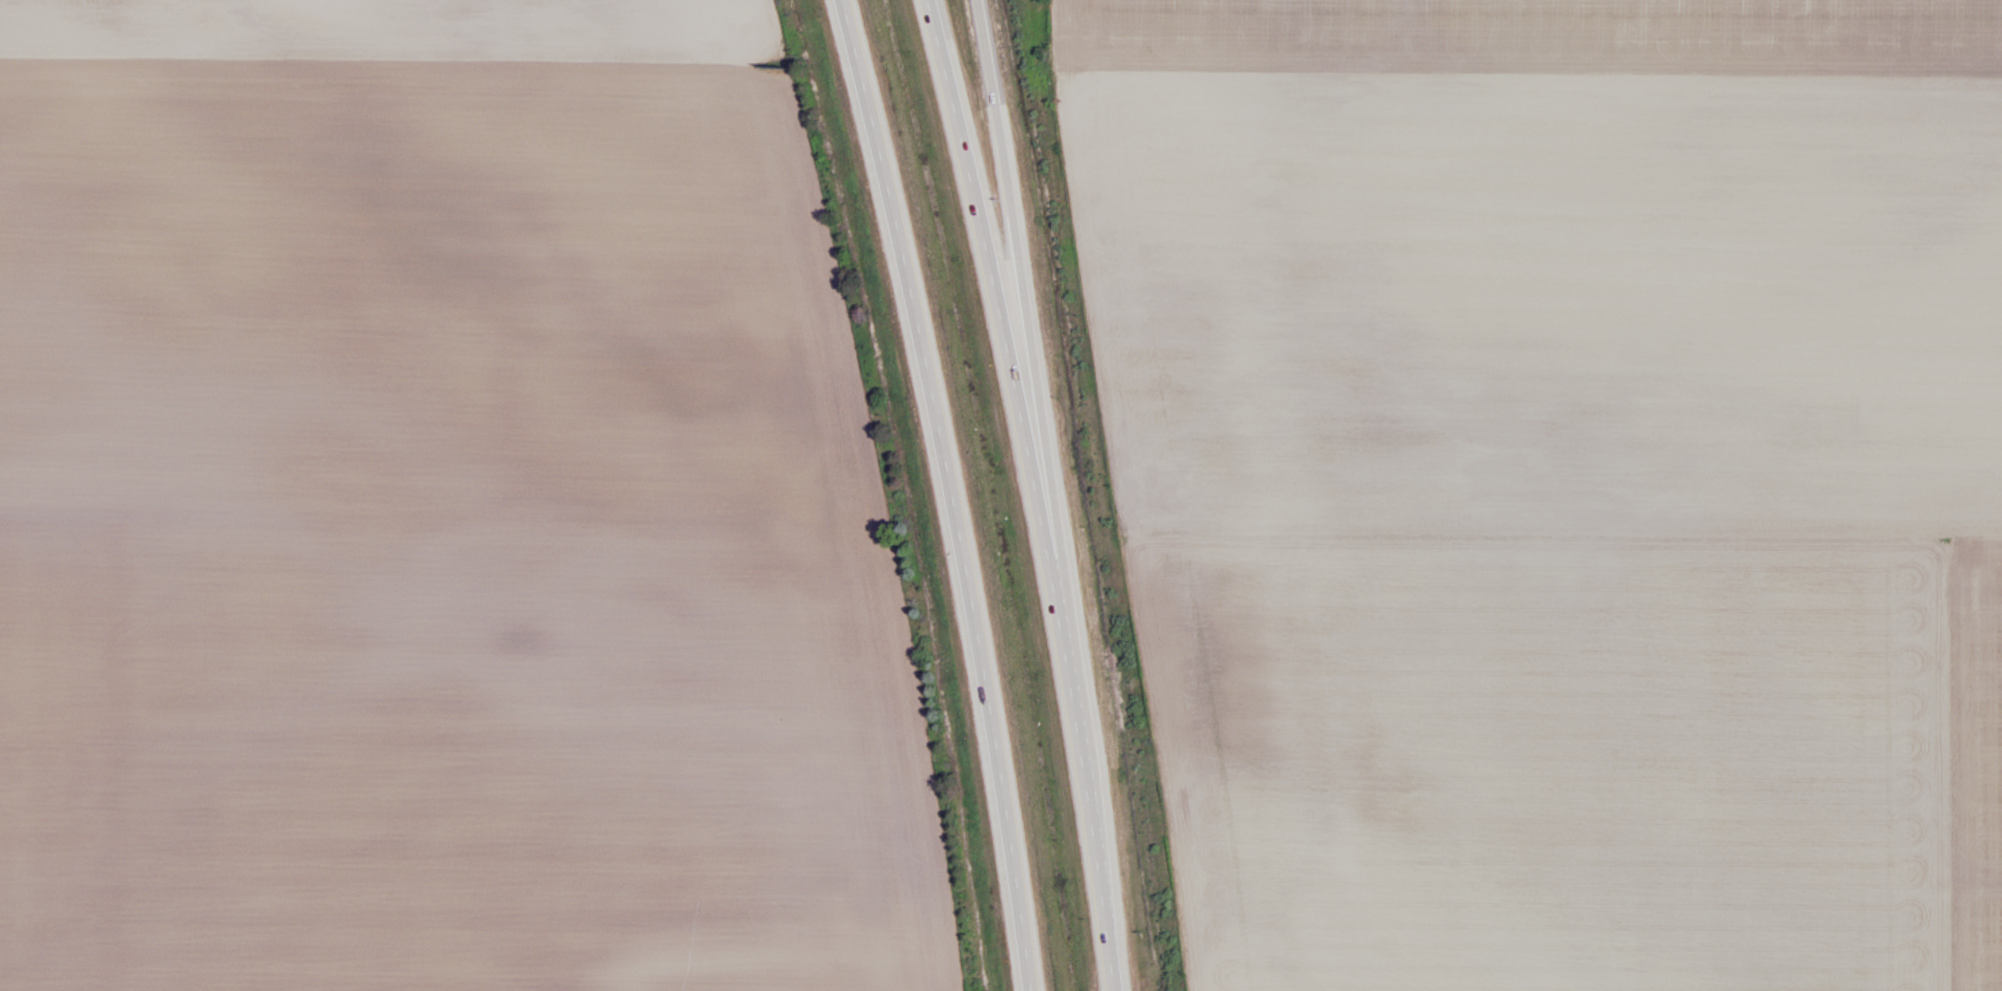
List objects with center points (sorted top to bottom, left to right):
road: (1014, 219)
road: (949, 492)
road: (1043, 492)

